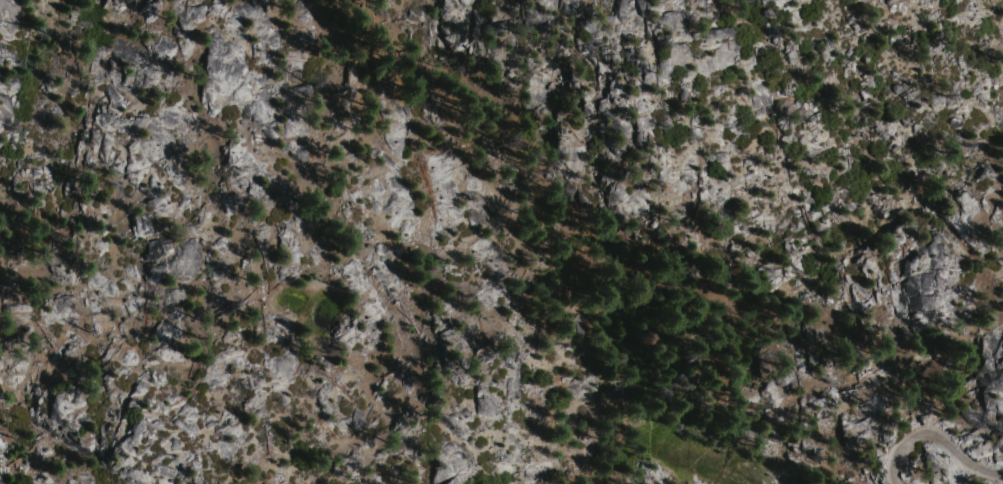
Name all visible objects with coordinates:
road: (934, 435)

